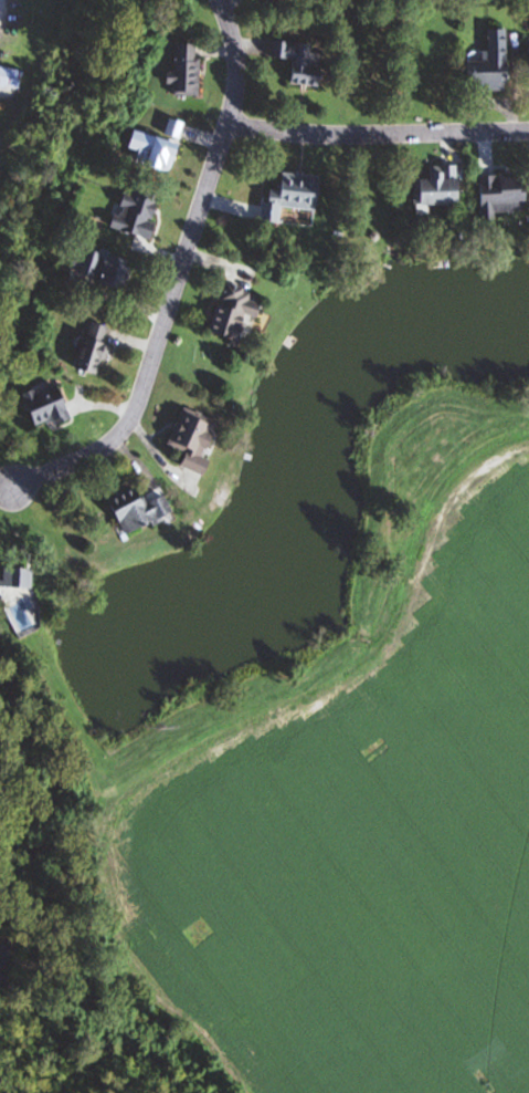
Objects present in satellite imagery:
building: (264, 0)
building: (301, 62)
building: (494, 64)
building: (189, 70)
building: (11, 77)
road: (380, 126)
building: (156, 152)
building: (440, 187)
building: (502, 195)
building: (294, 196)
building: (140, 212)
building: (88, 261)
building: (119, 272)
road: (177, 275)
building: (240, 312)
building: (96, 347)
building: (51, 406)
building: (197, 440)
building: (141, 511)
building: (18, 579)

